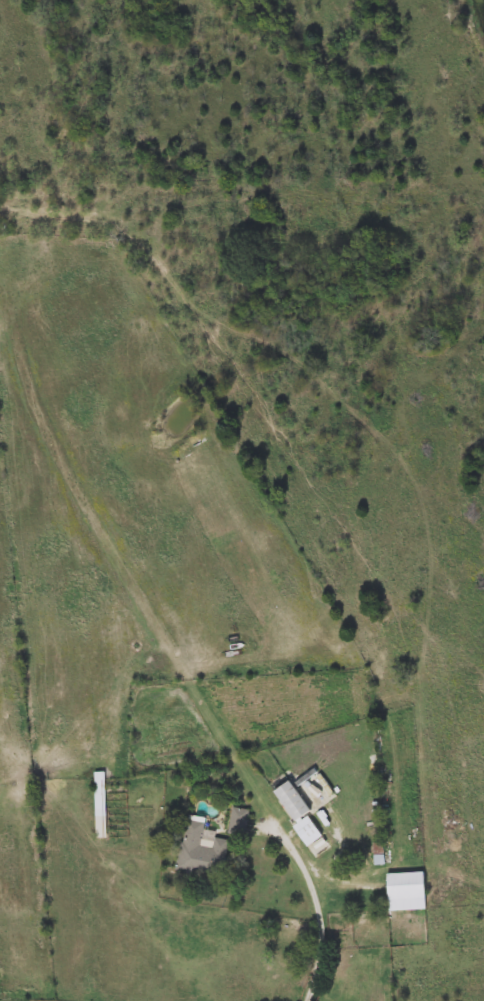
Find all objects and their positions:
building: (292, 800)
building: (99, 804)
building: (201, 850)
building: (406, 890)
road: (318, 905)

